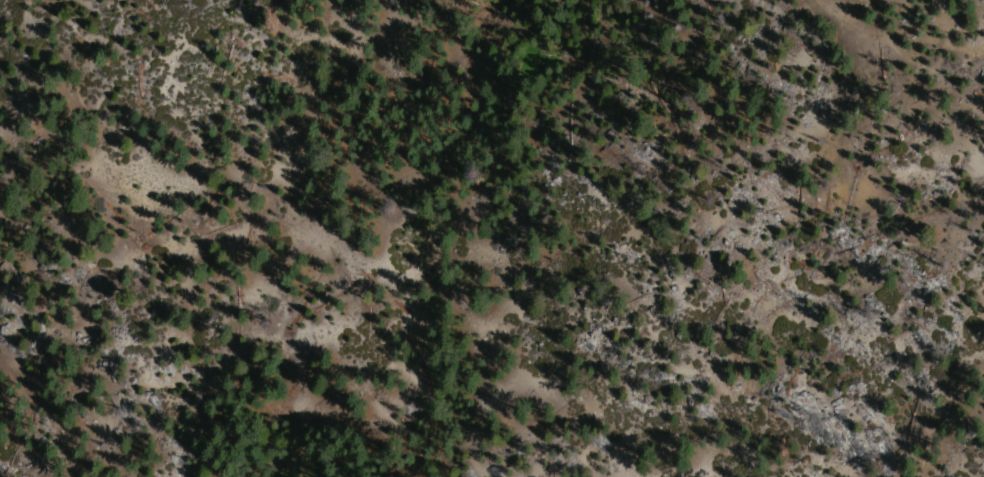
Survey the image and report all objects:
road: (952, 18)

